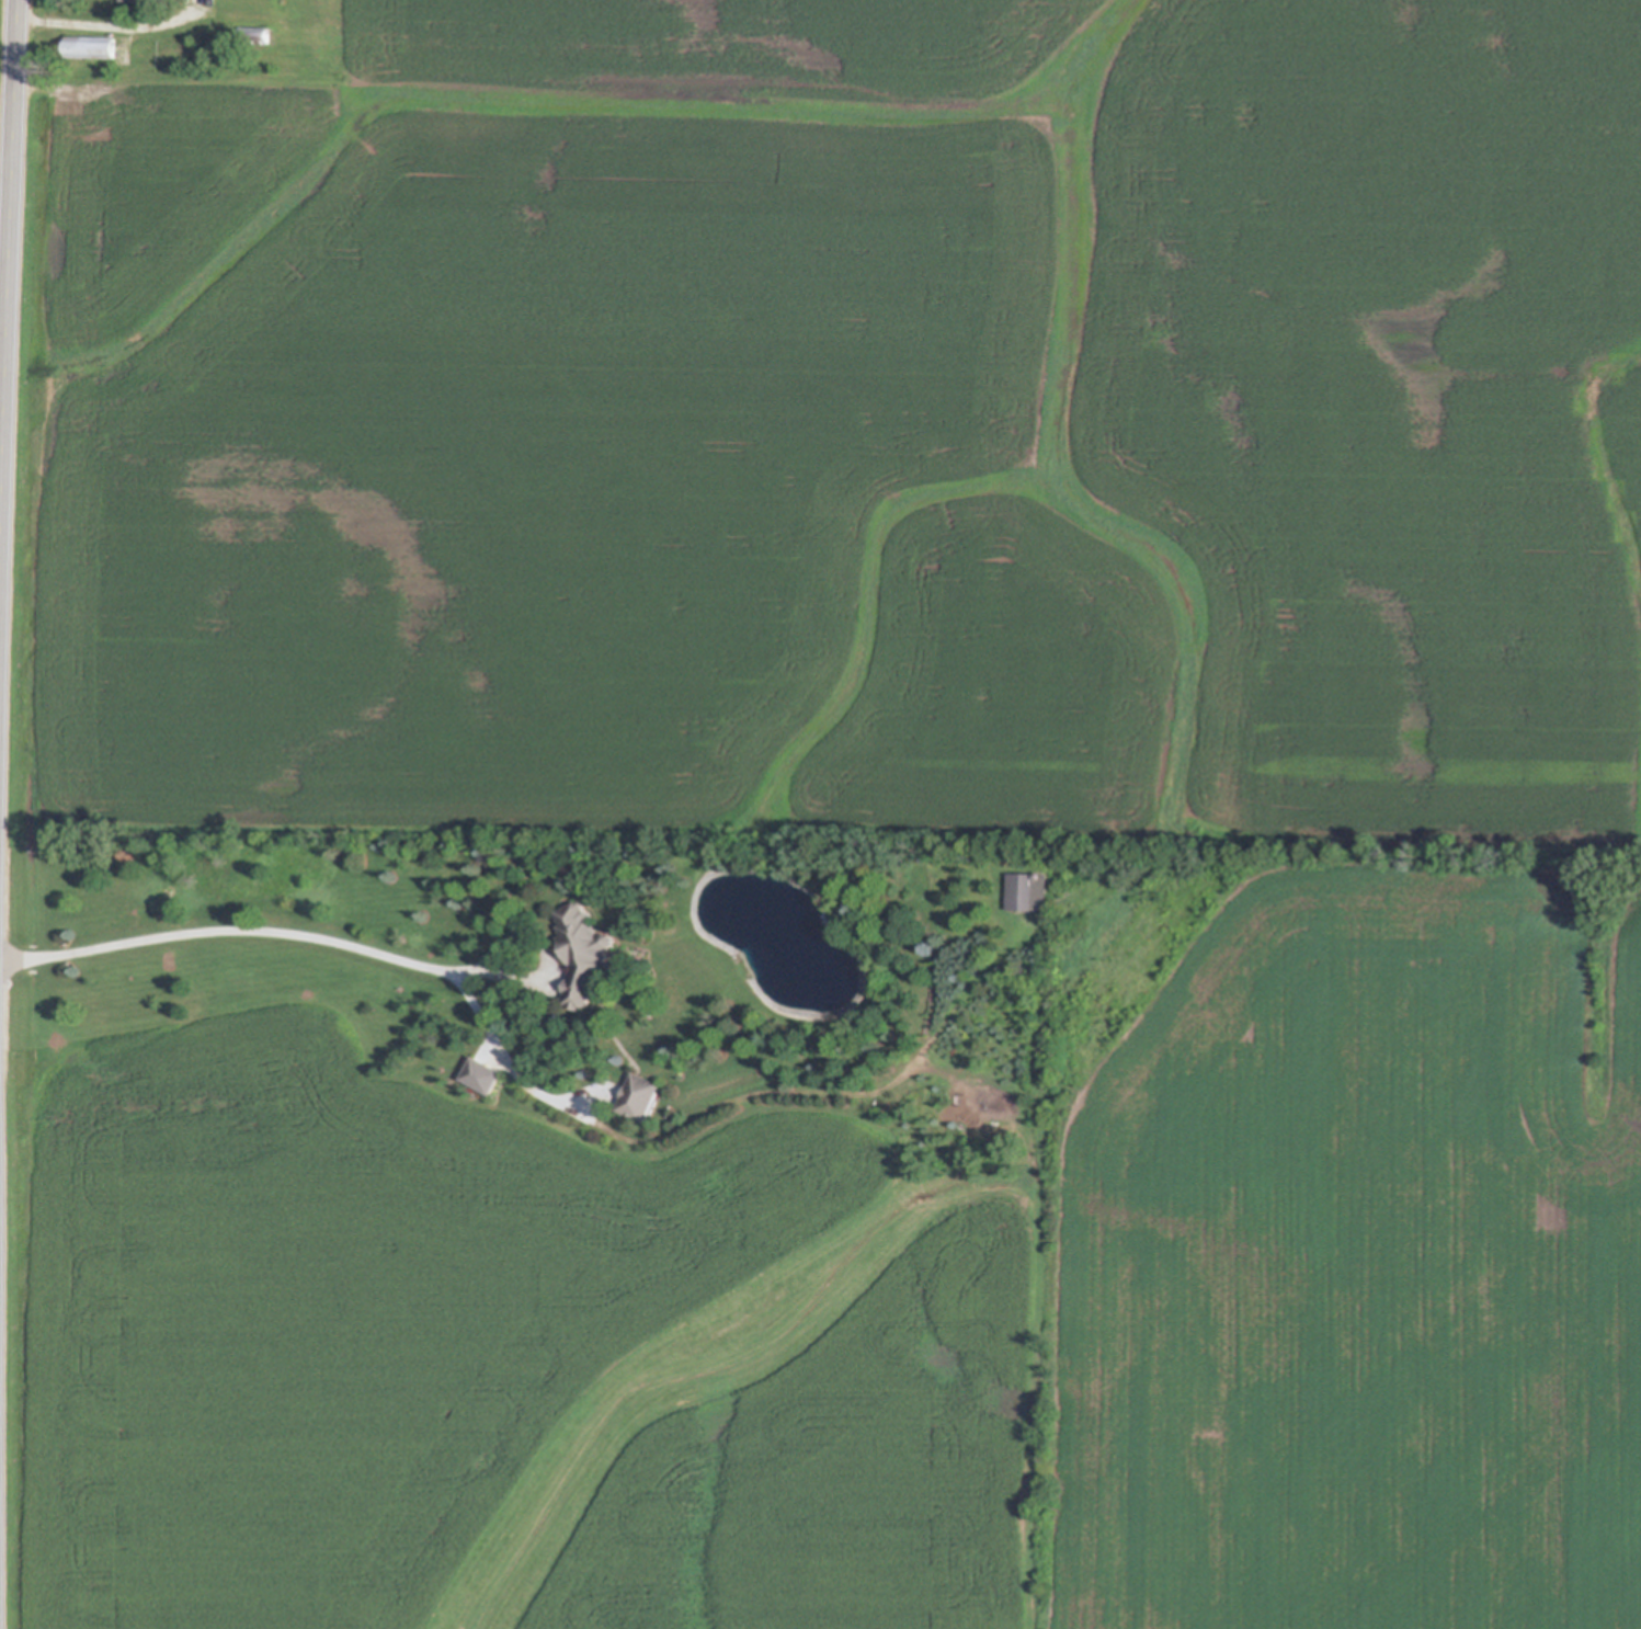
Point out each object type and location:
building: (147, 3)
road: (109, 26)
building: (257, 36)
building: (93, 49)
road: (155, 86)
road: (8, 273)
building: (1032, 885)
road: (228, 932)
building: (586, 944)
building: (643, 1089)

